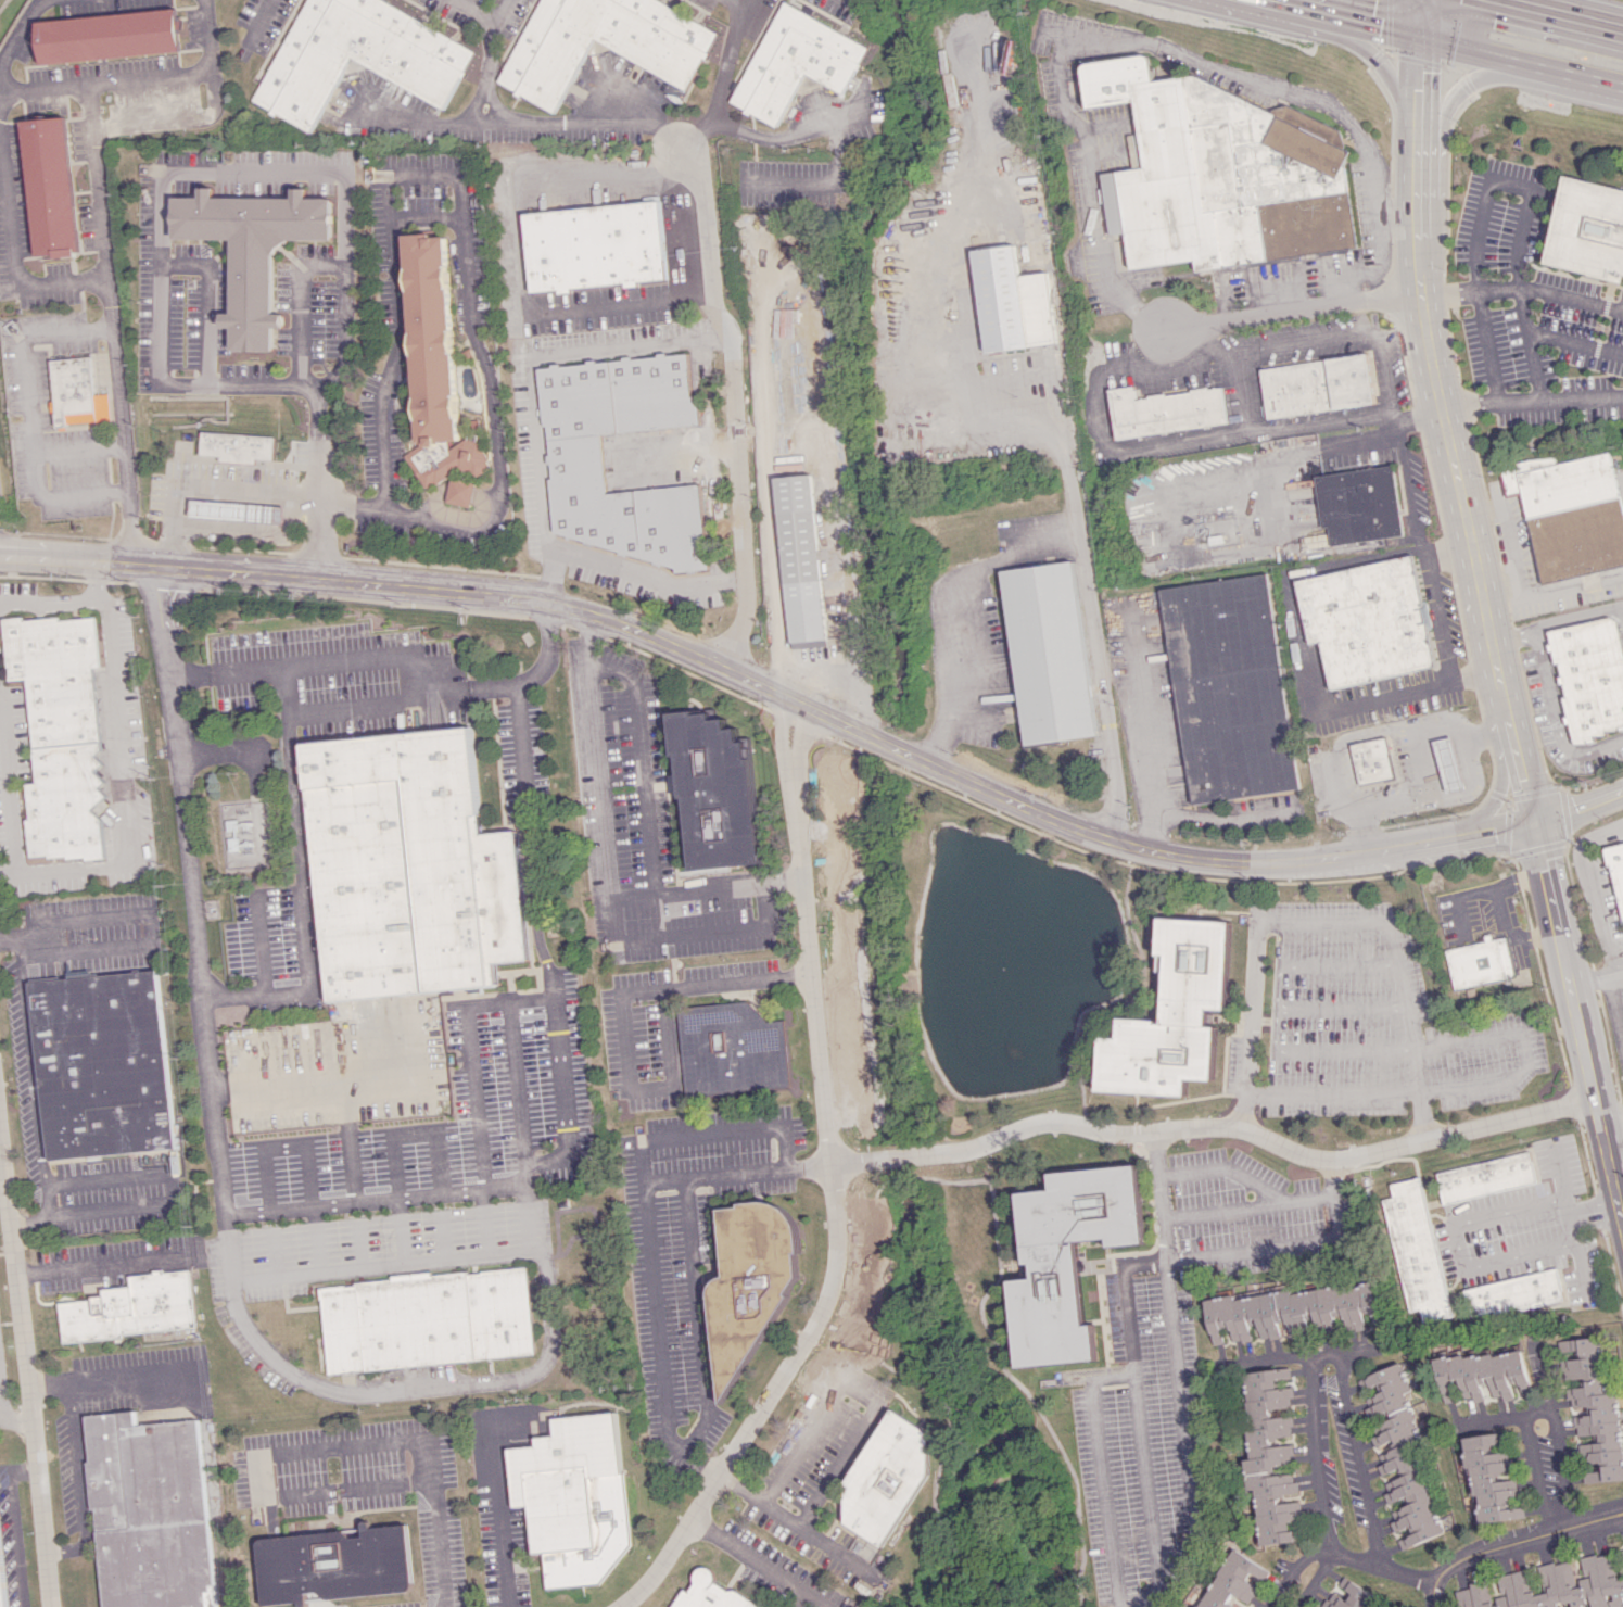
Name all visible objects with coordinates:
road: (1305, 1)
road: (743, 3)
road: (1545, 8)
road: (473, 11)
road: (1549, 14)
road: (1419, 16)
road: (257, 18)
road: (1366, 18)
traffic signals: (1420, 34)
building: (110, 35)
road: (12, 39)
building: (610, 40)
road: (1110, 41)
building: (364, 52)
building: (806, 55)
road: (487, 59)
road: (1521, 59)
road: (1381, 61)
road: (177, 72)
road: (721, 81)
road: (1462, 84)
road: (38, 88)
road: (1419, 89)
road: (172, 118)
road: (521, 121)
road: (783, 134)
road: (206, 172)
road: (824, 182)
building: (52, 186)
road: (1526, 186)
road: (679, 229)
building: (1587, 229)
road: (464, 241)
road: (14, 245)
building: (594, 245)
building: (253, 249)
road: (522, 258)
road: (1495, 288)
road: (107, 300)
building: (1013, 301)
road: (299, 307)
road: (1292, 309)
road: (956, 325)
road: (1347, 332)
road: (1199, 343)
road: (1526, 344)
road: (1484, 347)
road: (24, 351)
building: (440, 372)
road: (530, 380)
building: (1316, 385)
building: (78, 393)
road: (1531, 402)
road: (735, 405)
building: (1166, 410)
road: (1416, 416)
parking lot: (51, 418)
road: (74, 427)
road: (1369, 442)
building: (237, 444)
road: (106, 447)
building: (574, 456)
road: (680, 456)
road: (822, 456)
road: (109, 469)
road: (38, 473)
parking lot: (215, 485)
road: (1456, 485)
road: (204, 486)
road: (111, 491)
building: (1357, 504)
road: (316, 509)
building: (238, 511)
gas station: (238, 511)
building: (1568, 514)
road: (112, 519)
road: (53, 534)
road: (126, 537)
road: (128, 540)
road: (150, 540)
road: (170, 543)
road: (25, 547)
road: (238, 548)
road: (1445, 553)
road: (24, 557)
building: (802, 557)
road: (73, 558)
road: (1420, 560)
road: (102, 561)
road: (97, 579)
road: (645, 579)
road: (48, 600)
road: (946, 605)
building: (1366, 621)
road: (1558, 622)
building: (810, 644)
building: (1049, 653)
road: (342, 662)
building: (1590, 675)
road: (1475, 676)
building: (1228, 688)
road: (1103, 692)
road: (517, 709)
road: (825, 714)
road: (1557, 719)
road: (1464, 726)
road: (1404, 729)
building: (63, 732)
road: (1146, 733)
road: (643, 759)
building: (1372, 760)
building: (1449, 763)
road: (1333, 777)
road: (1409, 780)
road: (118, 781)
road: (1499, 786)
road: (10, 788)
building: (715, 792)
road: (1578, 805)
power substation: (243, 833)
road: (605, 849)
building: (409, 868)
building: (1616, 869)
road: (1588, 886)
road: (301, 887)
road: (534, 897)
road: (1328, 920)
road: (688, 928)
road: (148, 931)
road: (807, 932)
road: (193, 935)
road: (11, 937)
building: (1480, 962)
road: (1596, 975)
road: (619, 1015)
building: (1172, 1015)
road: (1615, 1016)
road: (1272, 1018)
road: (1578, 1021)
building: (732, 1049)
road: (1522, 1054)
road: (34, 1059)
building: (102, 1065)
road: (471, 1079)
road: (312, 1080)
road: (1327, 1089)
road: (562, 1102)
road: (1612, 1122)
road: (1216, 1128)
road: (1154, 1155)
road: (1225, 1168)
building: (1485, 1177)
road: (166, 1188)
road: (503, 1188)
road: (1217, 1209)
road: (1594, 1212)
road: (647, 1213)
road: (43, 1215)
road: (480, 1223)
road: (397, 1230)
road: (315, 1238)
road: (1272, 1245)
building: (1417, 1249)
road: (1454, 1251)
building: (1068, 1257)
road: (104, 1264)
road: (382, 1264)
road: (693, 1268)
road: (1581, 1275)
building: (752, 1279)
building: (1513, 1293)
building: (132, 1311)
building: (1291, 1311)
building: (427, 1320)
road: (1313, 1355)
road: (25, 1367)
building: (1484, 1375)
road: (107, 1380)
road: (460, 1382)
road: (1551, 1385)
road: (863, 1392)
road: (1095, 1396)
road: (768, 1399)
building: (1593, 1408)
road: (13, 1419)
road: (1507, 1420)
road: (1185, 1442)
building: (1270, 1454)
road: (1316, 1455)
road: (255, 1456)
building: (1402, 1458)
road: (1353, 1459)
road: (1556, 1472)
road: (1147, 1476)
building: (888, 1477)
road: (1534, 1477)
building: (1489, 1479)
road: (75, 1480)
building: (574, 1486)
building: (148, 1511)
road: (497, 1513)
road: (13, 1527)
road: (1521, 1540)
road: (438, 1544)
road: (829, 1547)
building: (1621, 1552)
road: (750, 1554)
road: (1343, 1557)
building: (332, 1564)
building: (1231, 1580)
road: (1315, 1581)
building: (1550, 1586)
building: (708, 1593)
building: (1351, 1596)
road: (799, 1598)
road: (817, 1598)
road: (1435, 1598)
building: (0, 1602)

